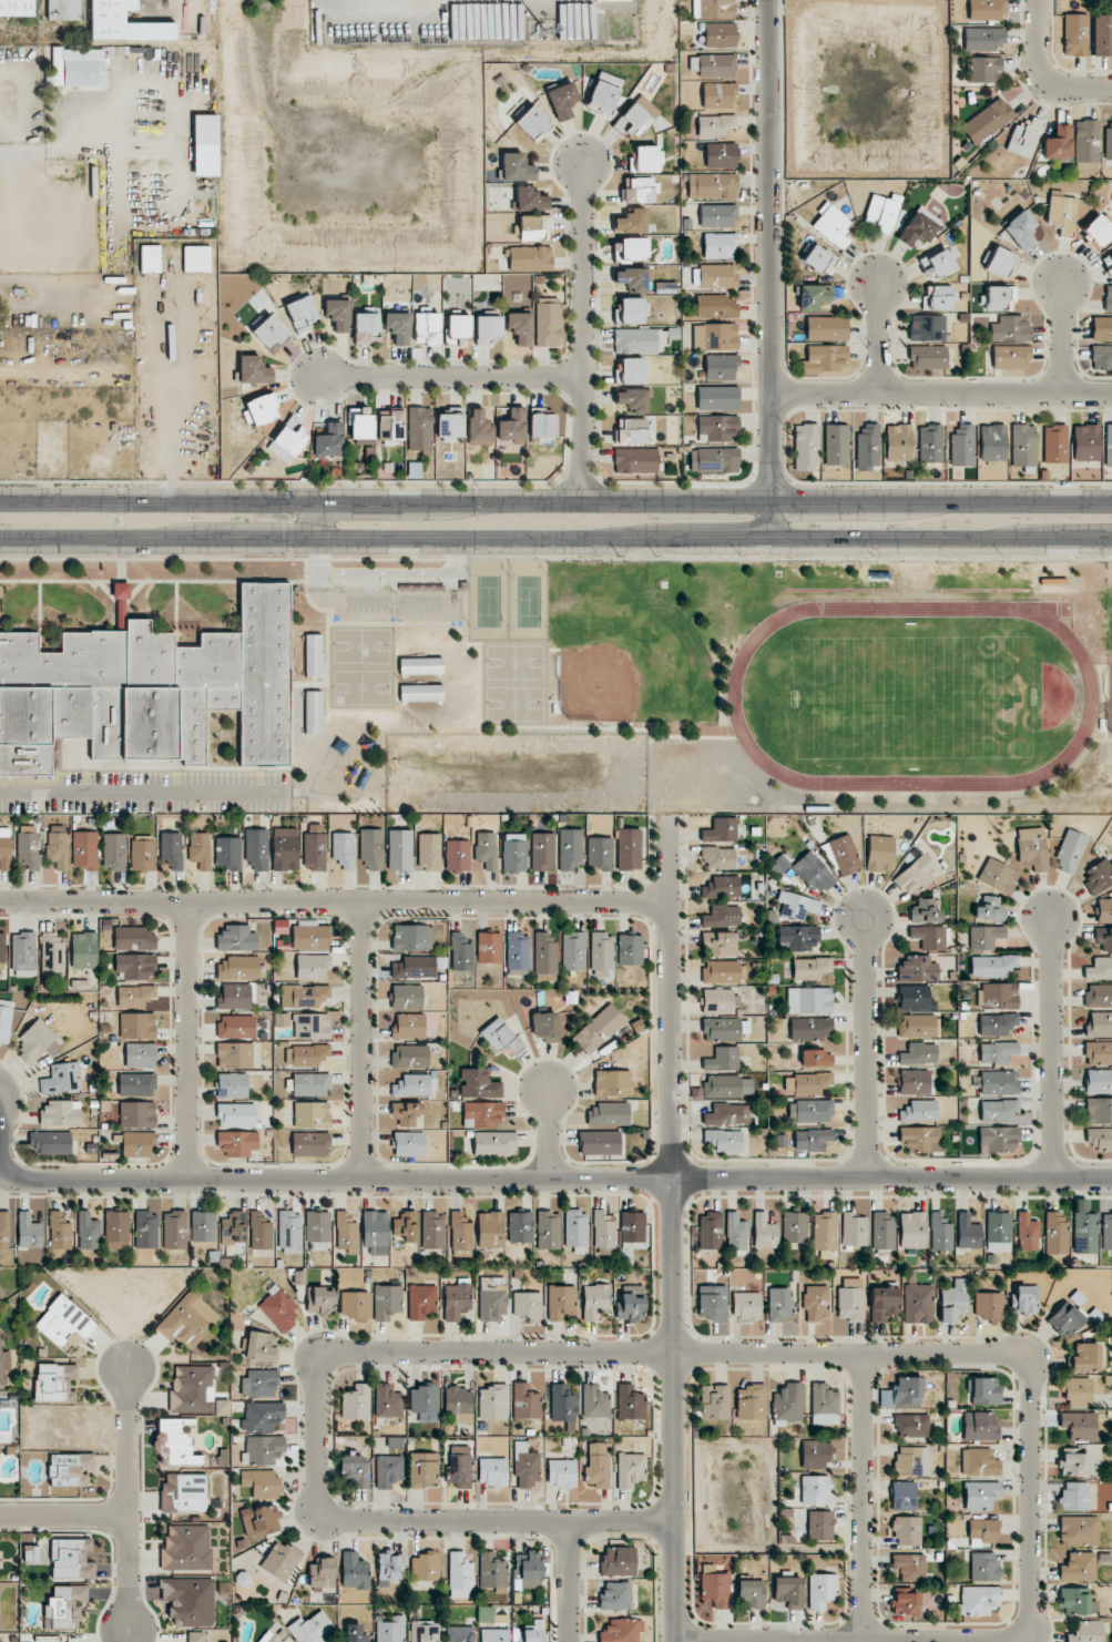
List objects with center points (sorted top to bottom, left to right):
building: (17, 8)
road: (188, 8)
building: (713, 8)
building: (63, 10)
building: (987, 10)
building: (110, 18)
building: (720, 34)
building: (1075, 34)
building: (1102, 34)
building: (983, 39)
building: (57, 65)
building: (983, 69)
building: (82, 72)
road: (1040, 77)
building: (604, 93)
building: (717, 94)
building: (562, 100)
building: (637, 118)
building: (987, 121)
building: (533, 123)
building: (714, 124)
building: (1023, 139)
road: (78, 140)
building: (1058, 143)
building: (1087, 143)
building: (1109, 143)
building: (721, 155)
building: (647, 159)
building: (516, 167)
building: (712, 185)
building: (639, 190)
building: (530, 198)
building: (883, 212)
building: (1062, 213)
building: (717, 215)
building: (631, 222)
building: (833, 226)
building: (533, 227)
building: (916, 230)
building: (1020, 230)
building: (1096, 232)
building: (718, 245)
building: (632, 248)
building: (530, 258)
building: (818, 258)
building: (938, 262)
building: (1000, 262)
building: (1108, 263)
road: (765, 269)
building: (717, 276)
building: (633, 278)
building: (814, 296)
building: (937, 297)
building: (999, 297)
building: (1108, 298)
building: (716, 306)
building: (633, 310)
building: (302, 313)
building: (338, 314)
building: (548, 322)
building: (397, 327)
building: (426, 327)
building: (519, 327)
building: (927, 327)
building: (366, 328)
building: (458, 328)
building: (488, 328)
building: (826, 328)
building: (1101, 328)
building: (1010, 329)
building: (269, 333)
road: (577, 333)
building: (715, 336)
road: (1055, 336)
building: (637, 339)
road: (873, 339)
building: (1011, 356)
building: (927, 357)
building: (1101, 357)
building: (824, 358)
building: (720, 366)
building: (633, 370)
building: (254, 371)
road: (447, 380)
road: (938, 394)
building: (717, 397)
building: (633, 400)
building: (262, 409)
building: (449, 424)
building: (359, 426)
building: (391, 426)
building: (718, 426)
building: (511, 427)
building: (419, 428)
building: (478, 428)
building: (541, 429)
building: (631, 430)
building: (288, 440)
building: (328, 440)
building: (898, 442)
building: (992, 442)
building: (1087, 442)
building: (929, 443)
building: (1054, 443)
building: (836, 445)
building: (1023, 445)
building: (1109, 446)
building: (805, 447)
building: (868, 447)
building: (635, 460)
building: (714, 460)
road: (555, 501)
road: (121, 519)
road: (317, 520)
road: (555, 539)
road: (385, 578)
building: (421, 588)
building: (121, 591)
park: (489, 601)
park: (529, 601)
building: (367, 603)
building: (419, 640)
park: (361, 645)
park: (1109, 646)
park: (624, 647)
building: (313, 655)
park: (514, 662)
building: (420, 665)
park: (361, 689)
building: (149, 690)
building: (420, 693)
track: (733, 694)
park: (514, 704)
building: (312, 712)
road: (145, 791)
building: (721, 830)
building: (29, 846)
building: (58, 846)
building: (4, 848)
building: (256, 848)
building: (314, 848)
building: (1032, 848)
building: (171, 849)
building: (200, 849)
building: (343, 849)
building: (370, 849)
building: (486, 849)
building: (569, 849)
building: (629, 849)
building: (399, 850)
building: (1070, 850)
building: (114, 851)
building: (428, 851)
building: (542, 851)
building: (84, 853)
building: (142, 853)
building: (284, 853)
building: (513, 853)
building: (599, 853)
building: (227, 854)
building: (844, 854)
building: (879, 854)
building: (457, 855)
building: (718, 857)
building: (779, 864)
building: (814, 873)
building: (915, 876)
building: (998, 876)
building: (1099, 876)
building: (721, 887)
road: (333, 901)
building: (797, 905)
building: (990, 909)
building: (1104, 909)
building: (924, 911)
building: (722, 916)
building: (313, 936)
building: (411, 937)
building: (797, 937)
building: (929, 937)
building: (985, 937)
building: (1103, 937)
building: (133, 938)
building: (236, 938)
building: (718, 944)
building: (2, 947)
building: (488, 947)
building: (630, 949)
building: (84, 950)
building: (517, 950)
building: (601, 950)
building: (573, 951)
building: (460, 952)
building: (52, 953)
building: (544, 953)
building: (23, 955)
building: (312, 966)
building: (992, 966)
building: (136, 967)
building: (410, 967)
building: (810, 967)
building: (238, 968)
building: (917, 969)
building: (1099, 969)
building: (723, 971)
building: (134, 996)
building: (309, 996)
building: (999, 996)
building: (1098, 996)
building: (234, 997)
building: (406, 997)
road: (667, 997)
building: (915, 998)
building: (718, 1000)
building: (809, 1000)
building: (4, 1021)
building: (997, 1023)
building: (1099, 1024)
building: (136, 1026)
building: (312, 1026)
building: (408, 1026)
building: (545, 1026)
building: (917, 1026)
building: (236, 1027)
building: (599, 1028)
building: (724, 1029)
building: (810, 1029)
building: (500, 1037)
road: (360, 1040)
road: (186, 1041)
building: (37, 1042)
road: (864, 1049)
road: (1055, 1050)
building: (998, 1052)
building: (918, 1053)
building: (1098, 1053)
building: (306, 1054)
building: (140, 1055)
building: (234, 1055)
building: (410, 1055)
building: (815, 1058)
building: (722, 1059)
building: (61, 1079)
building: (1098, 1081)
building: (612, 1082)
building: (914, 1082)
building: (999, 1082)
building: (806, 1083)
building: (136, 1084)
building: (310, 1084)
building: (478, 1084)
building: (232, 1085)
building: (415, 1085)
building: (727, 1087)
building: (999, 1110)
building: (1099, 1110)
building: (809, 1111)
building: (919, 1111)
building: (60, 1113)
building: (405, 1113)
building: (727, 1113)
building: (136, 1114)
building: (236, 1114)
building: (312, 1114)
building: (481, 1114)
building: (606, 1114)
road: (547, 1133)
building: (812, 1139)
building: (921, 1139)
building: (998, 1139)
building: (1099, 1139)
building: (722, 1141)
building: (50, 1142)
building: (599, 1142)
building: (137, 1143)
building: (237, 1143)
building: (309, 1143)
building: (408, 1143)
building: (494, 1143)
road: (891, 1177)
road: (334, 1179)
building: (203, 1226)
building: (406, 1226)
building: (520, 1226)
building: (233, 1227)
building: (794, 1227)
building: (1084, 1228)
building: (4, 1230)
building: (116, 1230)
building: (145, 1230)
building: (174, 1230)
building: (432, 1230)
building: (489, 1230)
building: (548, 1230)
building: (575, 1230)
building: (602, 1230)
building: (710, 1230)
building: (854, 1230)
building: (912, 1230)
building: (259, 1231)
building: (317, 1231)
building: (824, 1231)
building: (883, 1231)
building: (1106, 1231)
building: (29, 1232)
building: (60, 1232)
building: (88, 1232)
building: (288, 1232)
building: (375, 1232)
building: (460, 1232)
building: (735, 1232)
building: (764, 1232)
building: (940, 1232)
building: (967, 1232)
building: (998, 1232)
building: (1027, 1232)
building: (1055, 1232)
building: (346, 1233)
building: (631, 1234)
building: (491, 1297)
building: (1024, 1298)
building: (849, 1299)
building: (319, 1301)
building: (420, 1301)
building: (595, 1301)
building: (953, 1301)
building: (386, 1302)
building: (560, 1302)
building: (712, 1302)
building: (816, 1302)
building: (457, 1303)
building: (630, 1303)
building: (883, 1303)
building: (918, 1303)
building: (779, 1304)
building: (354, 1305)
building: (527, 1305)
building: (746, 1305)
building: (988, 1305)
building: (278, 1309)
building: (1068, 1315)
building: (187, 1322)
building: (64, 1323)
building: (261, 1349)
building: (1084, 1357)
building: (3, 1363)
building: (70, 1371)
building: (262, 1383)
building: (192, 1389)
building: (908, 1390)
building: (983, 1390)
building: (1077, 1391)
building: (424, 1399)
building: (387, 1400)
building: (492, 1401)
building: (526, 1401)
building: (594, 1401)
building: (714, 1401)
building: (751, 1401)
building: (356, 1403)
building: (630, 1403)
building: (459, 1404)
building: (787, 1404)
building: (562, 1405)
building: (824, 1405)
road: (674, 1410)
building: (262, 1417)
building: (911, 1425)
building: (1079, 1425)
building: (979, 1426)
road: (316, 1434)
building: (175, 1442)
building: (262, 1450)
building: (911, 1460)
building: (979, 1462)
building: (1073, 1462)
building: (458, 1466)
building: (598, 1466)
building: (524, 1467)
building: (355, 1468)
building: (70, 1469)
building: (424, 1469)
building: (630, 1469)
building: (388, 1470)
building: (492, 1471)
building: (561, 1472)
building: (265, 1485)
building: (814, 1489)
building: (183, 1492)
building: (980, 1495)
road: (1028, 1495)
building: (904, 1496)
road: (863, 1497)
building: (1074, 1497)
road: (125, 1499)
road: (62, 1520)
building: (259, 1521)
building: (819, 1526)
building: (983, 1529)
building: (906, 1530)
building: (1079, 1530)
building: (186, 1548)
building: (69, 1561)
building: (280, 1561)
building: (618, 1561)
building: (390, 1565)
building: (425, 1565)
building: (983, 1565)
building: (909, 1567)
building: (1078, 1567)
building: (527, 1569)
building: (492, 1570)
building: (353, 1571)
building: (322, 1572)
building: (460, 1575)
road: (570, 1581)
building: (714, 1584)
building: (822, 1590)
building: (788, 1591)
building: (749, 1593)
building: (614, 1595)
building: (977, 1600)
building: (1075, 1601)
building: (906, 1603)
building: (65, 1605)
building: (484, 1613)
building: (313, 1629)
building: (389, 1630)
building: (424, 1631)
building: (621, 1631)
building: (530, 1632)
building: (1085, 1632)
building: (355, 1633)
building: (459, 1633)
building: (493, 1634)
building: (269, 1638)
building: (1, 1640)

